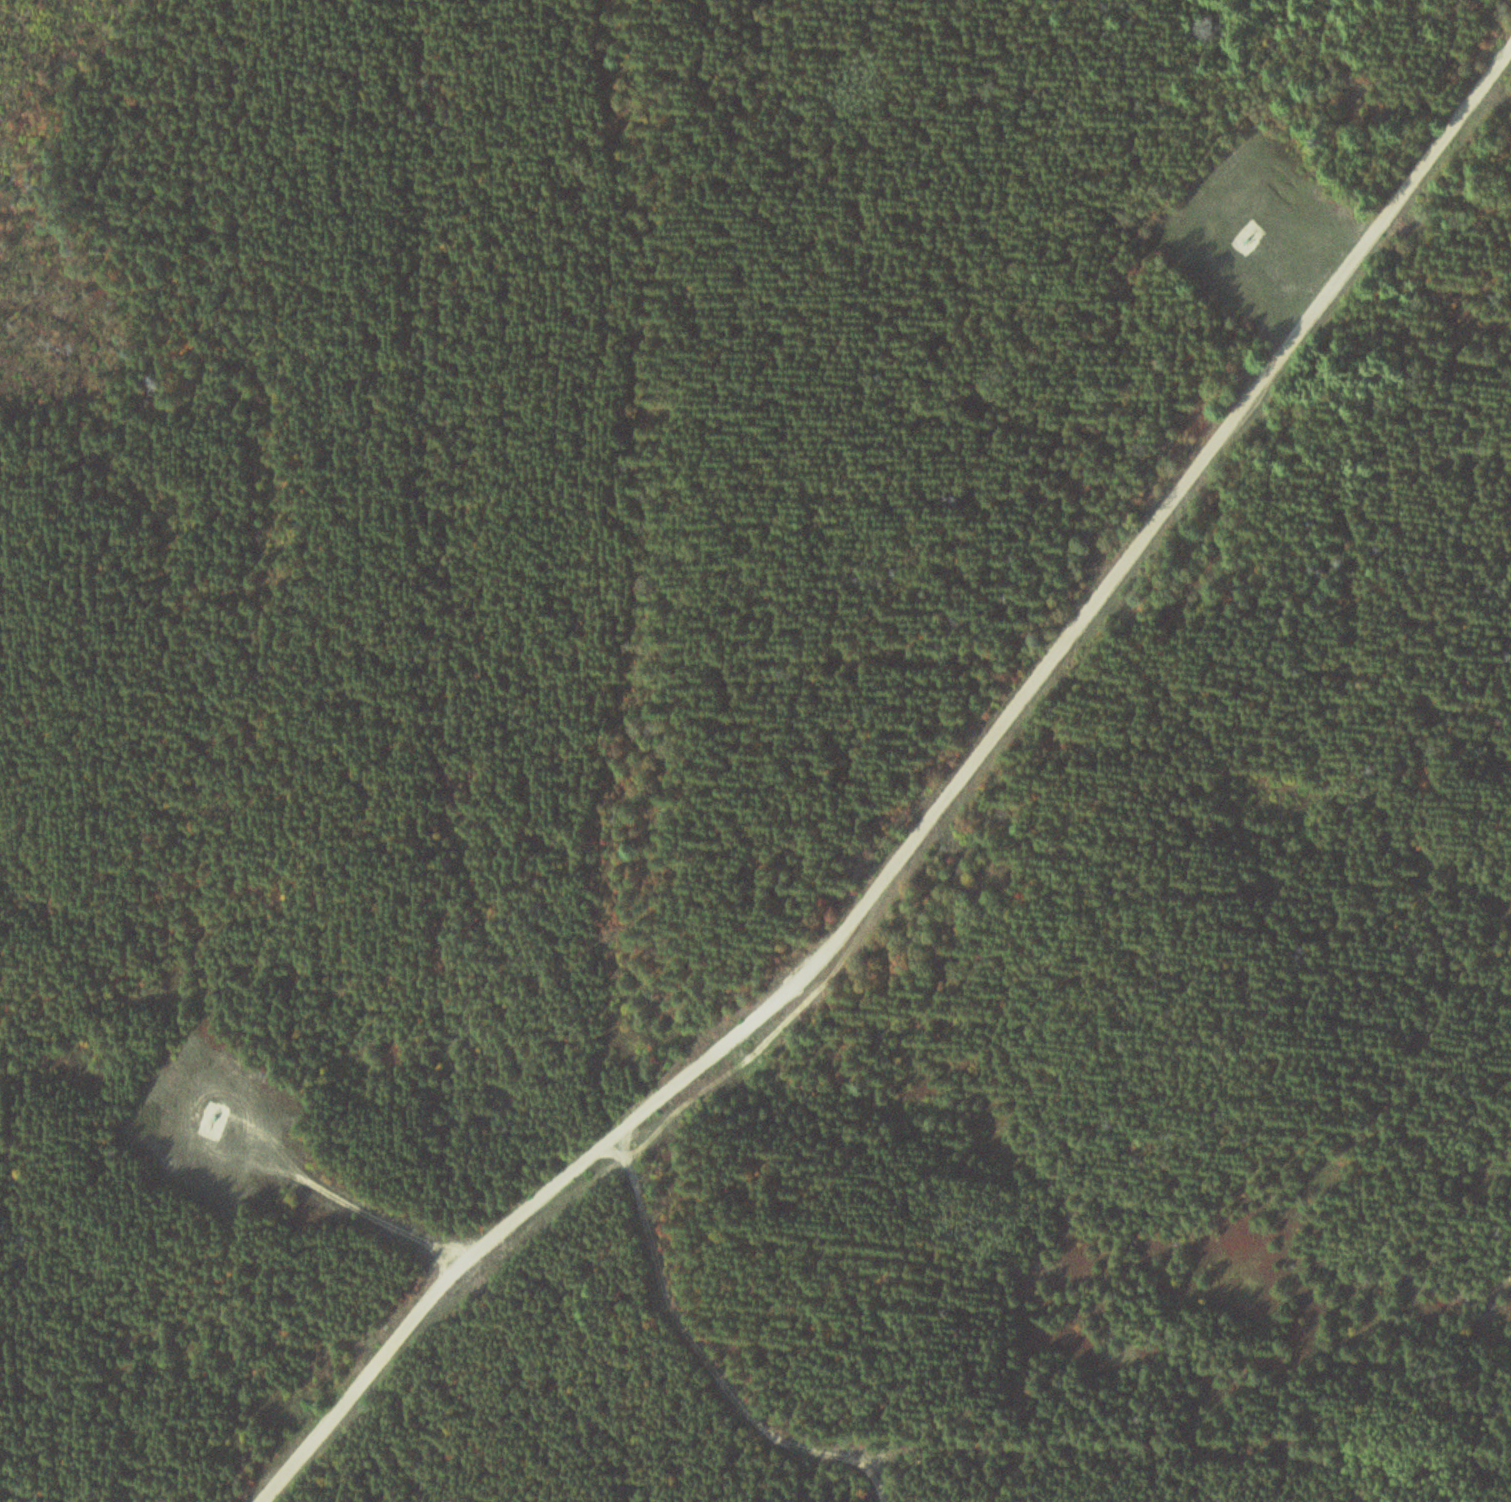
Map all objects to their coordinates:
petroleum well: (1259, 234)
road: (935, 827)
petroleum well: (219, 1119)
road: (370, 1202)
road: (713, 1353)

